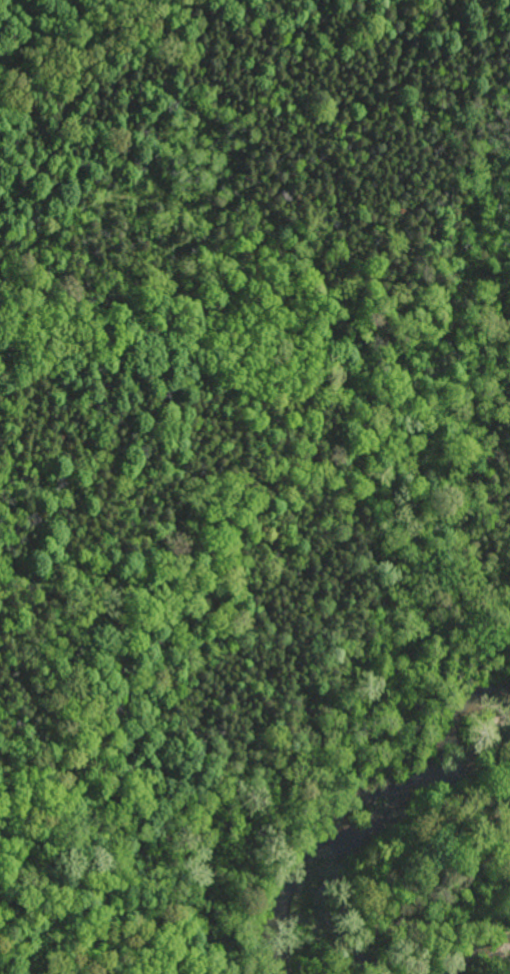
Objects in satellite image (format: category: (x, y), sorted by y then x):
park: (480, 860)

